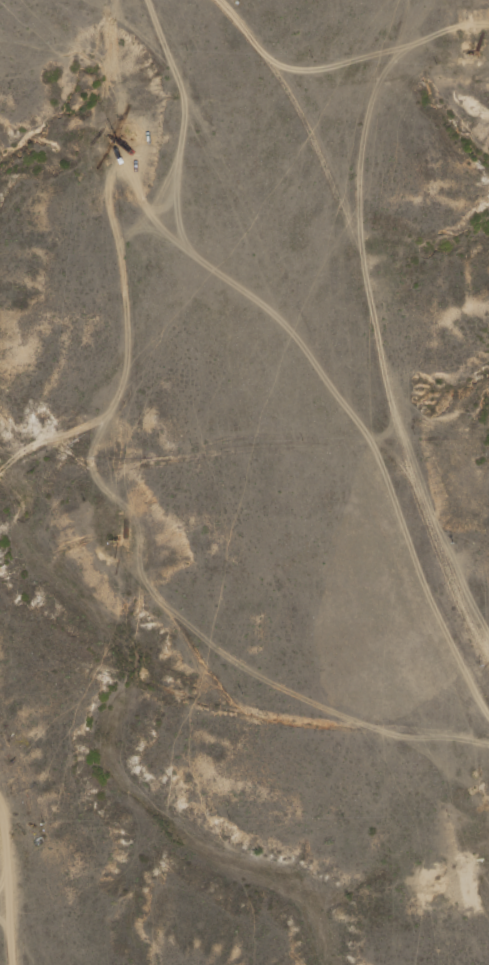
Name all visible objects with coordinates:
road: (118, 239)
road: (380, 316)
road: (215, 485)
road: (8, 869)
road: (2, 963)

